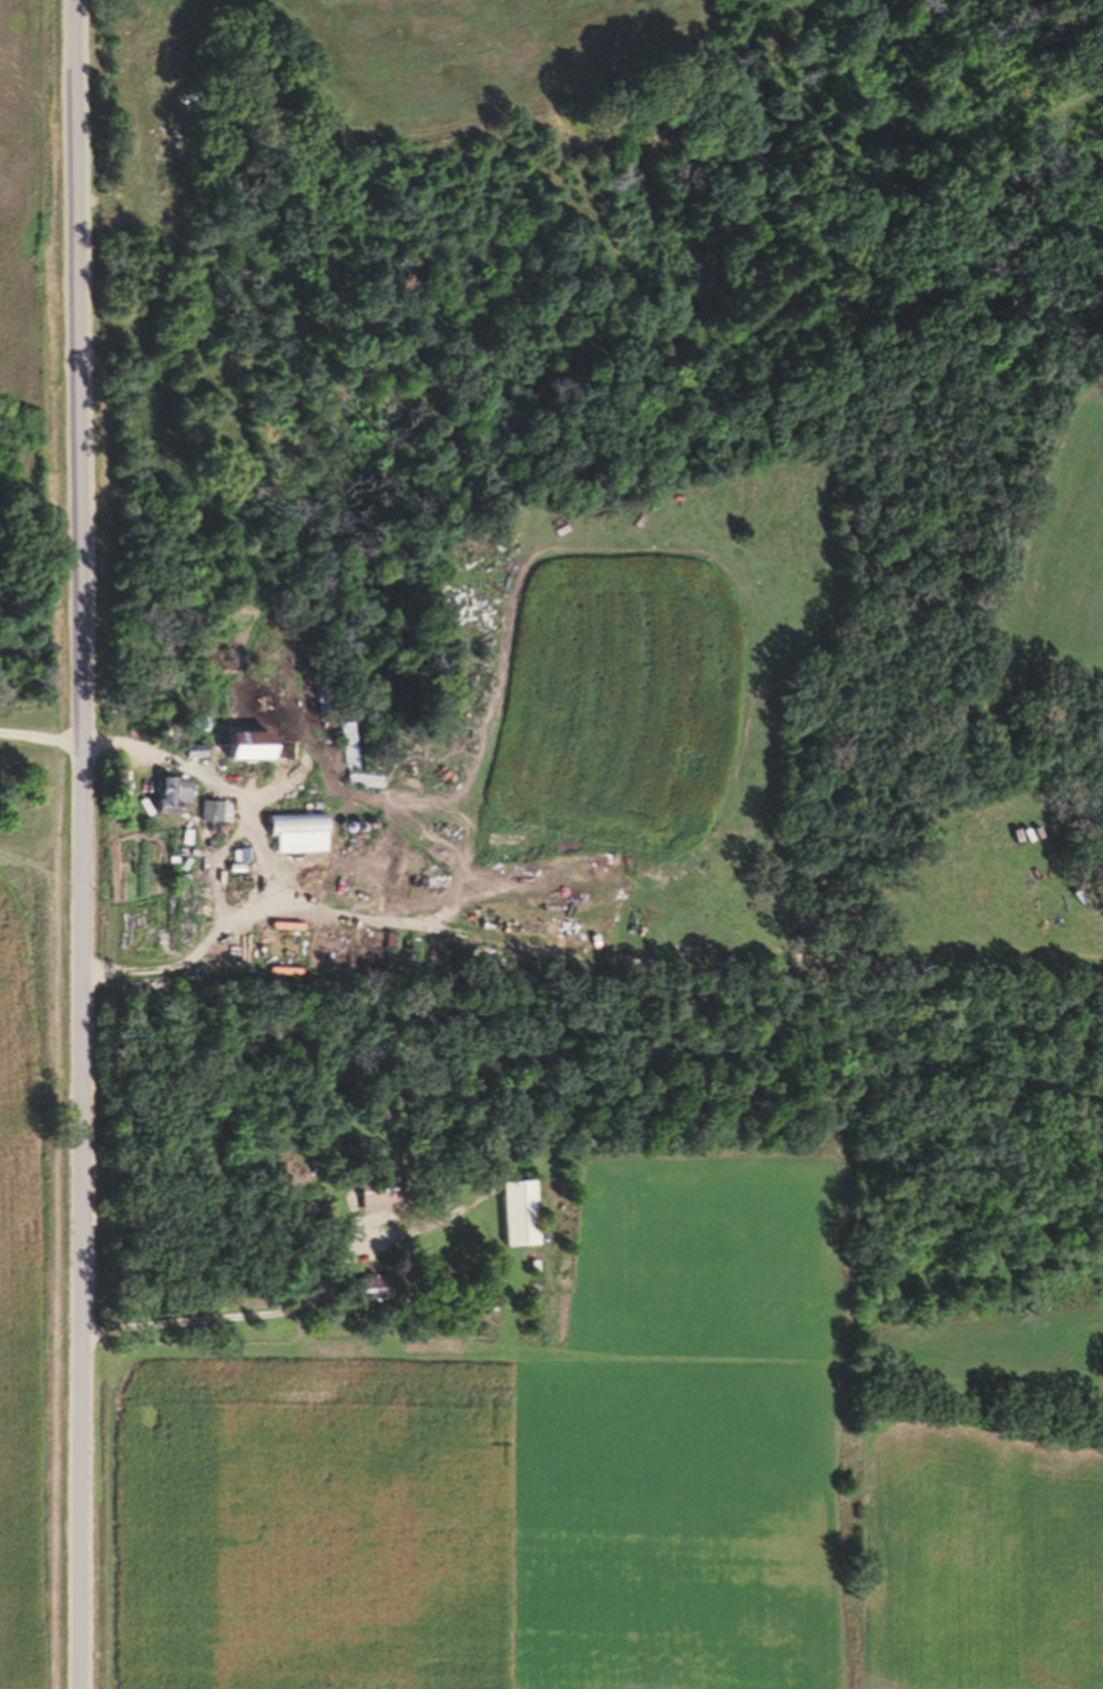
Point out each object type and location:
road: (534, 511)
building: (249, 754)
building: (347, 765)
building: (170, 803)
building: (296, 830)
road: (84, 843)
building: (375, 1201)
building: (517, 1222)
road: (244, 1307)

